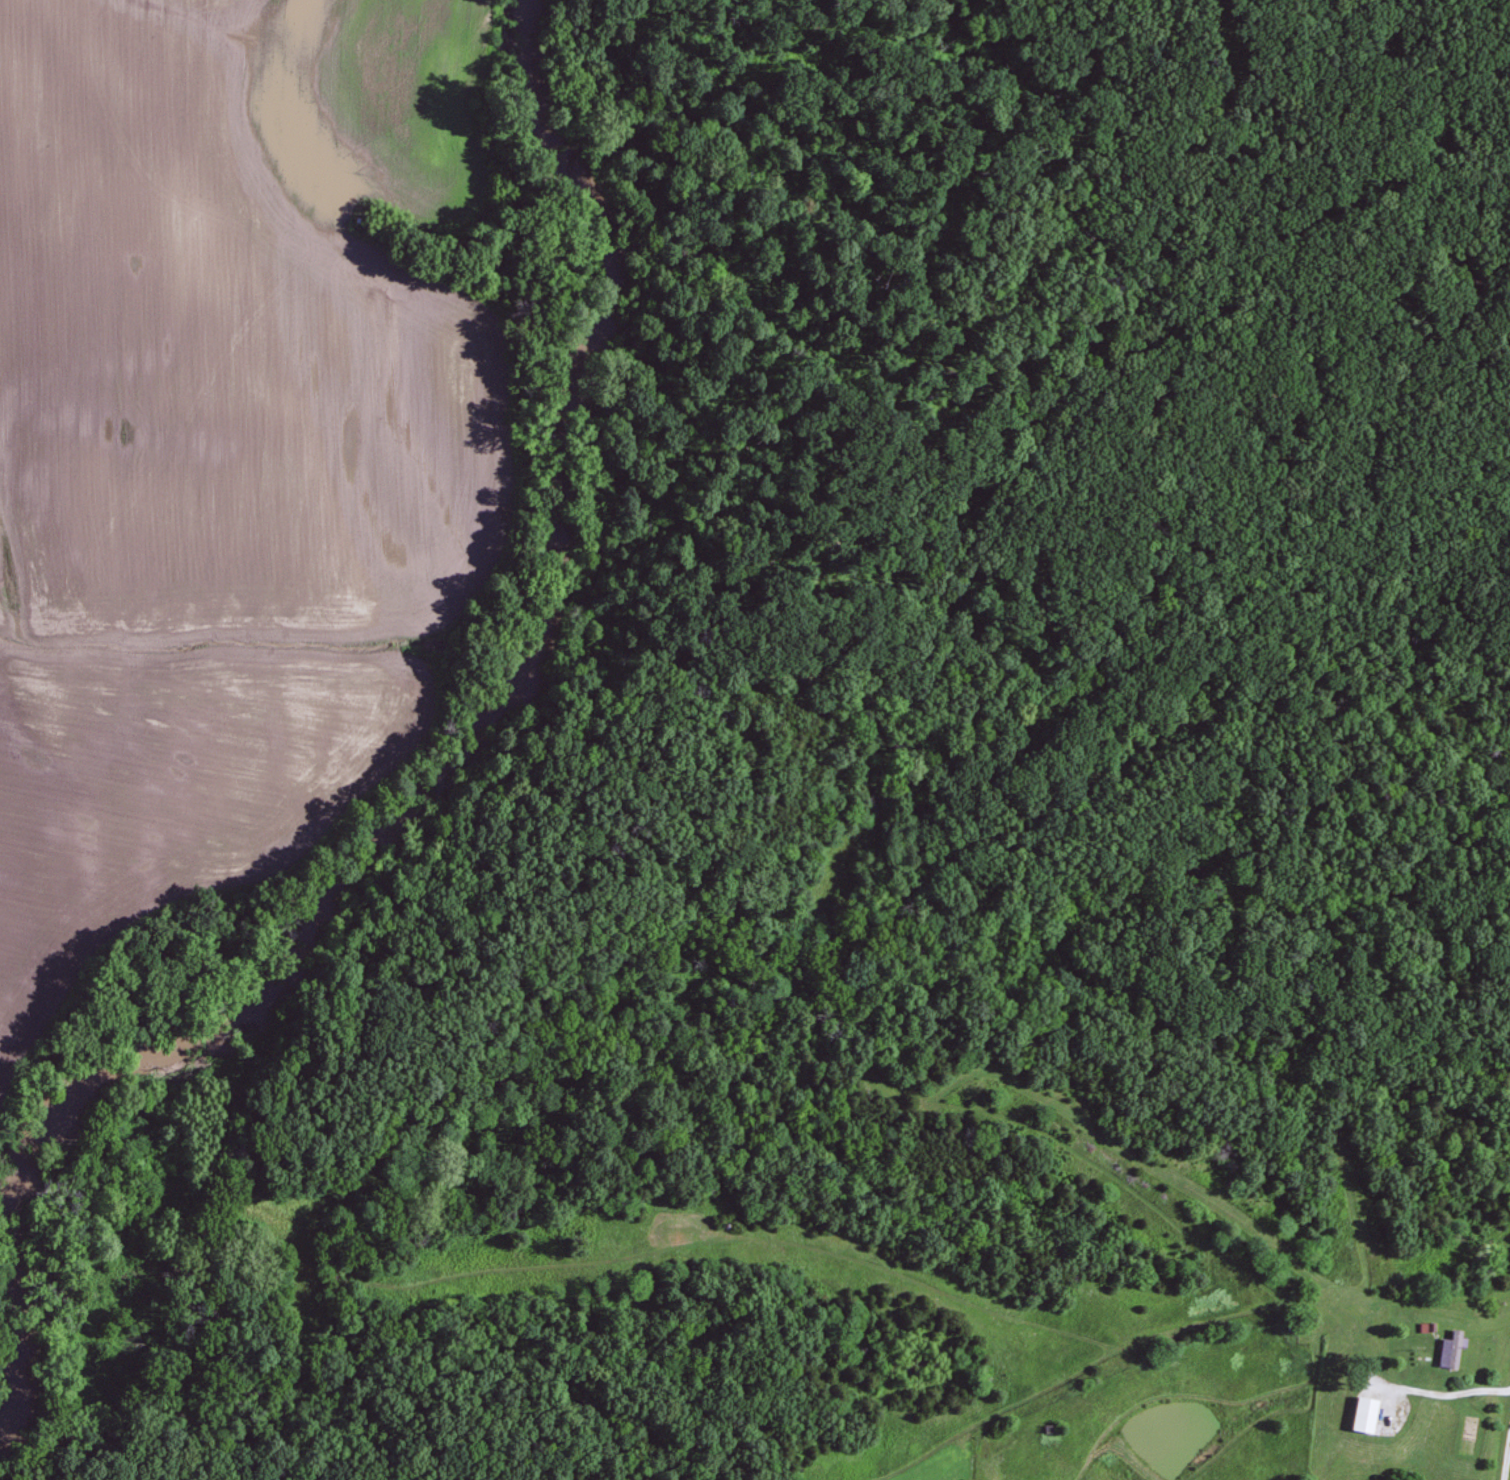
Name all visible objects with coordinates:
road: (1440, 1398)
building: (1357, 1415)
road: (1501, 1441)

